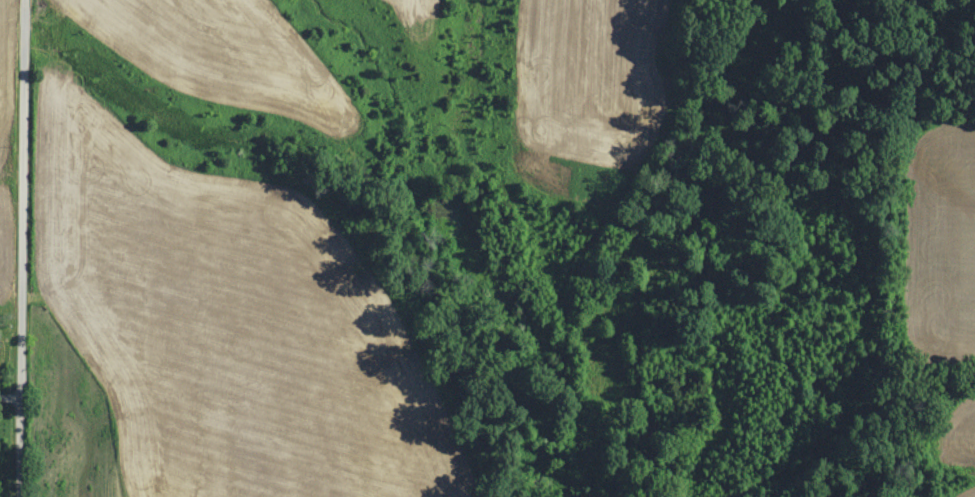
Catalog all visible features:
road: (18, 248)

